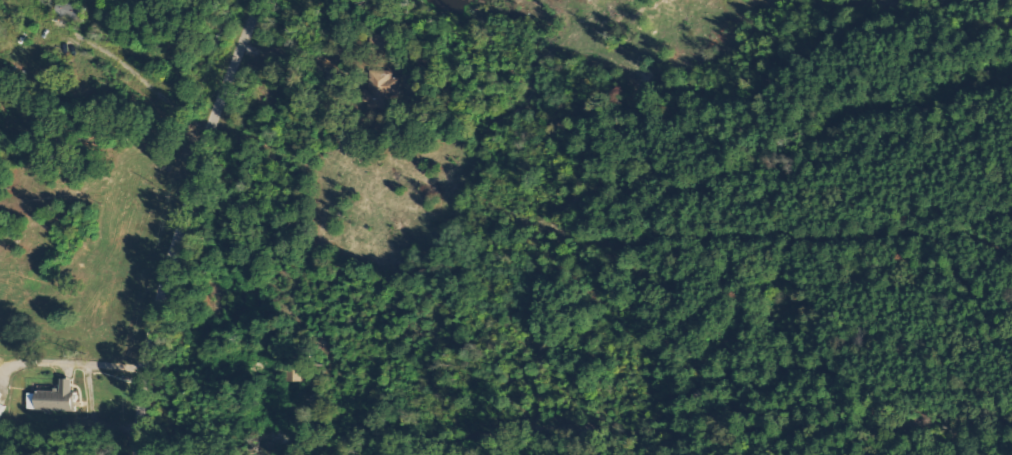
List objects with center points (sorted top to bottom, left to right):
building: (381, 88)
road: (185, 223)
building: (54, 398)

